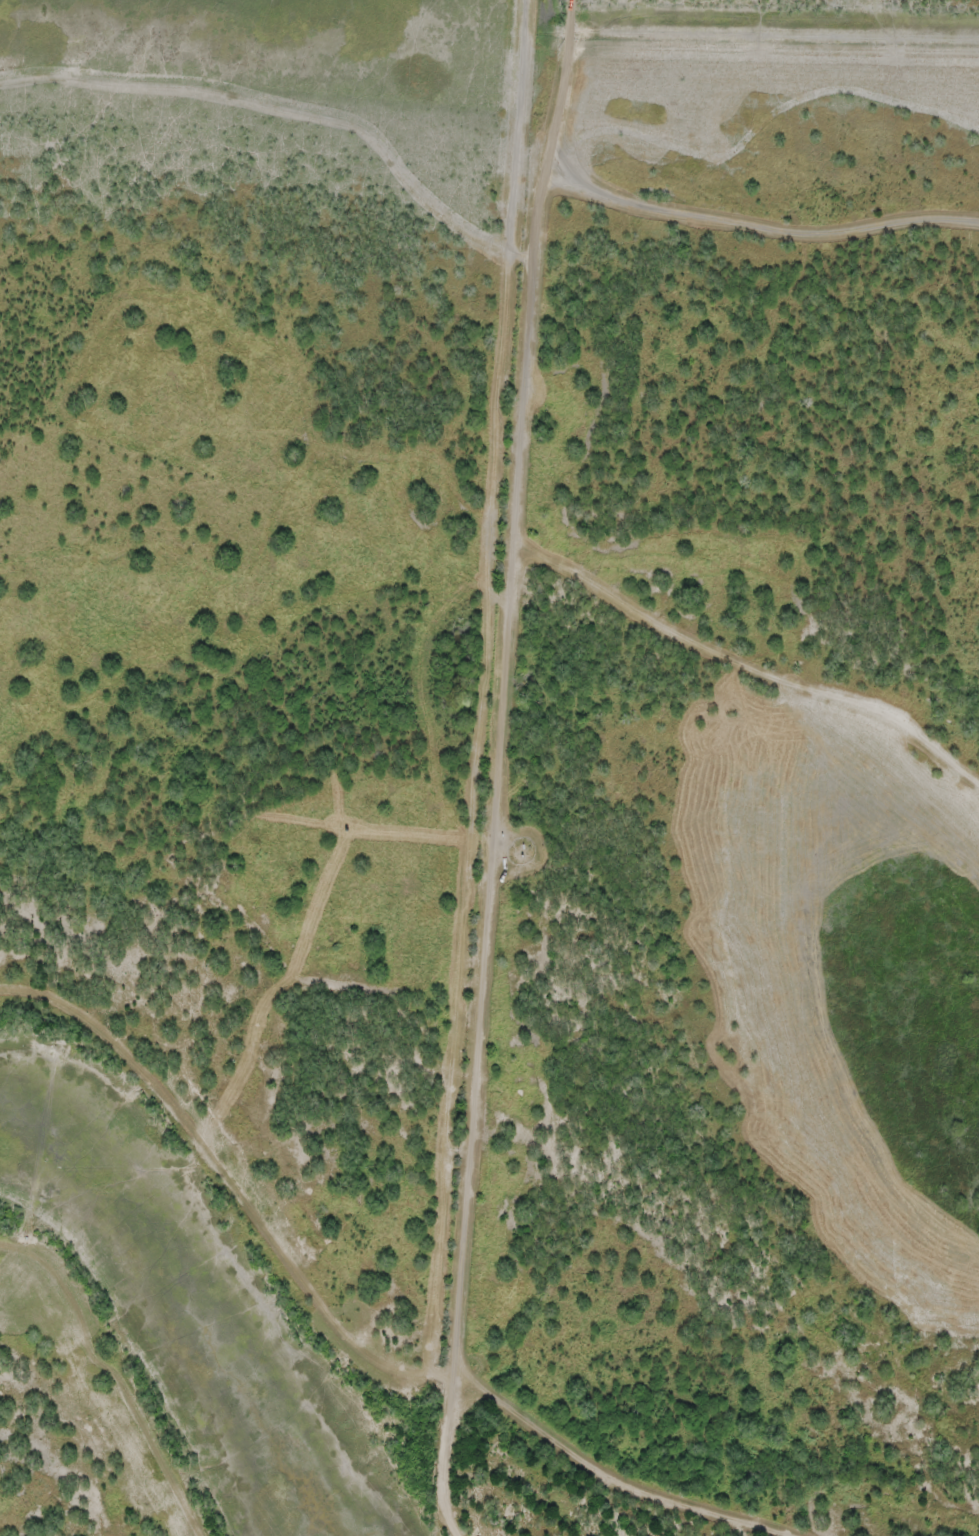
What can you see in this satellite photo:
road: (485, 1084)

